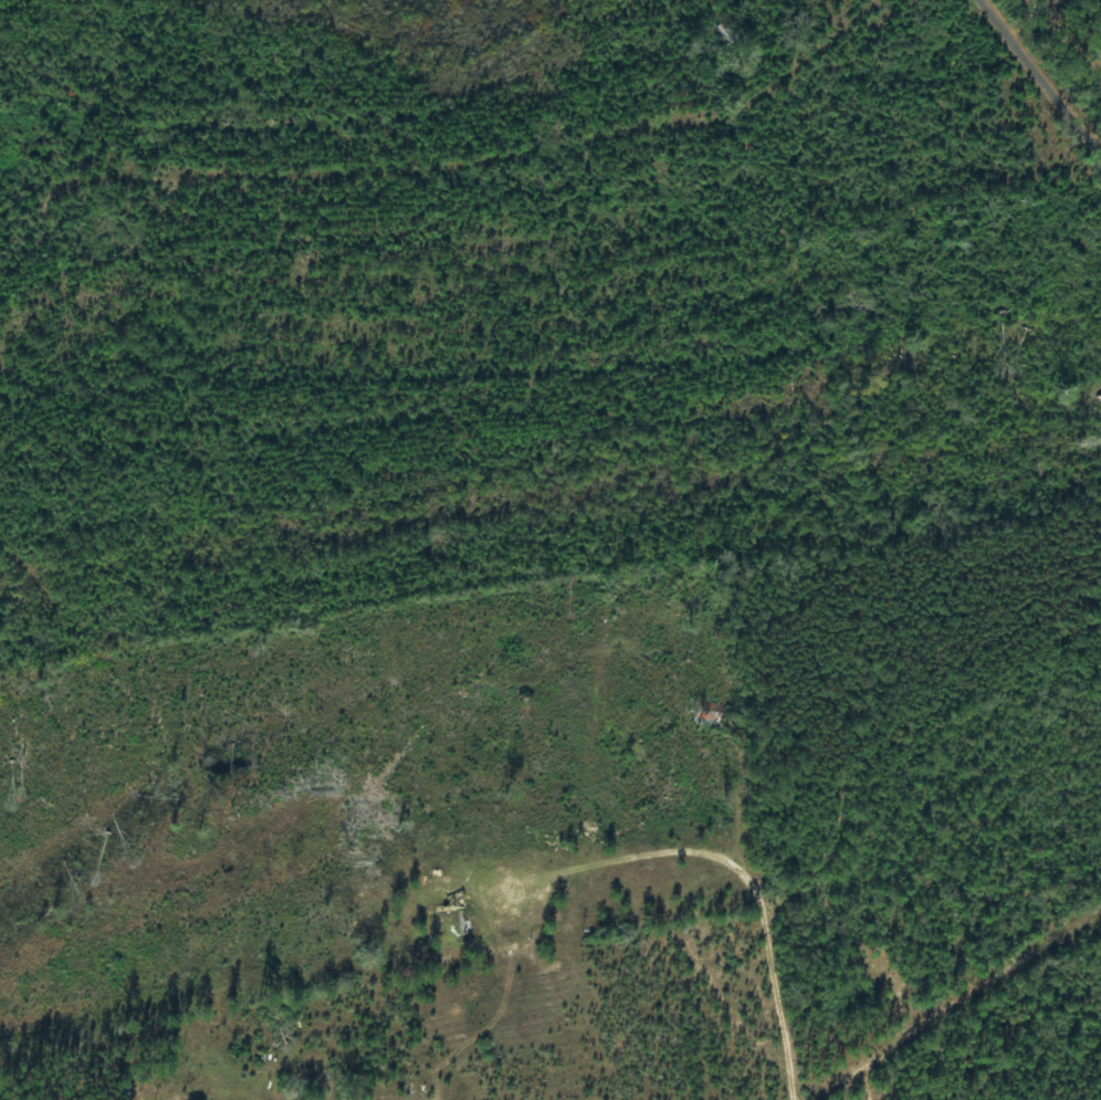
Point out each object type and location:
road: (1045, 74)
road: (696, 887)
road: (944, 1008)

